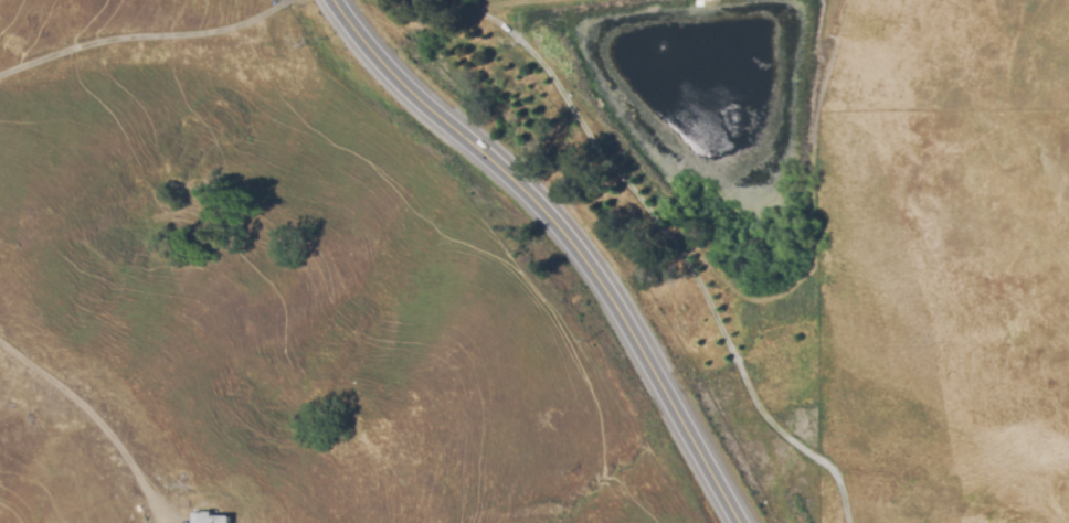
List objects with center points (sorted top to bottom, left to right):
road: (144, 35)
road: (570, 238)
road: (675, 249)
road: (100, 423)
building: (210, 519)

